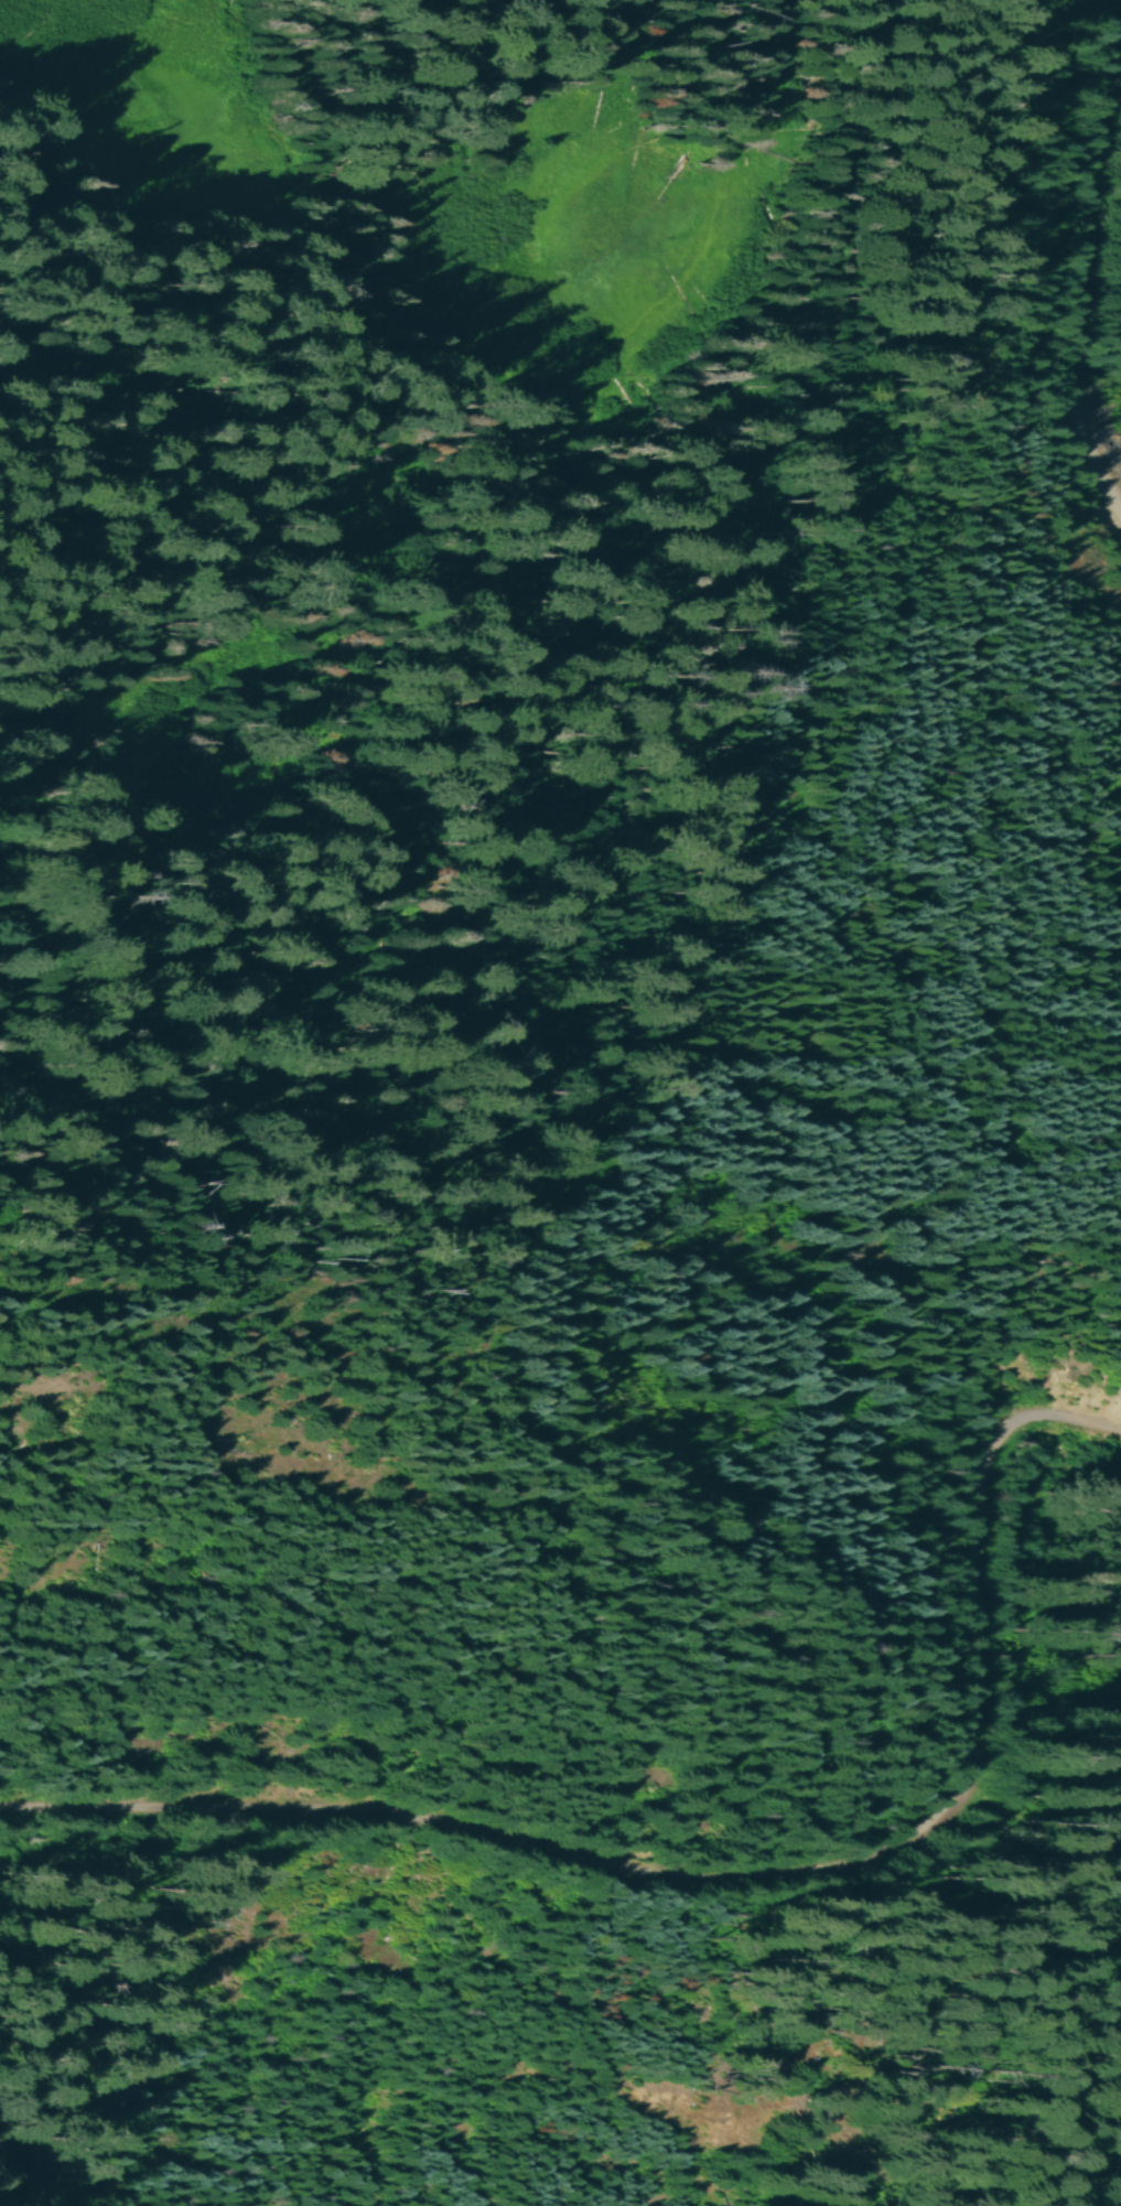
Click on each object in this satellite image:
road: (1068, 267)
road: (730, 1881)

